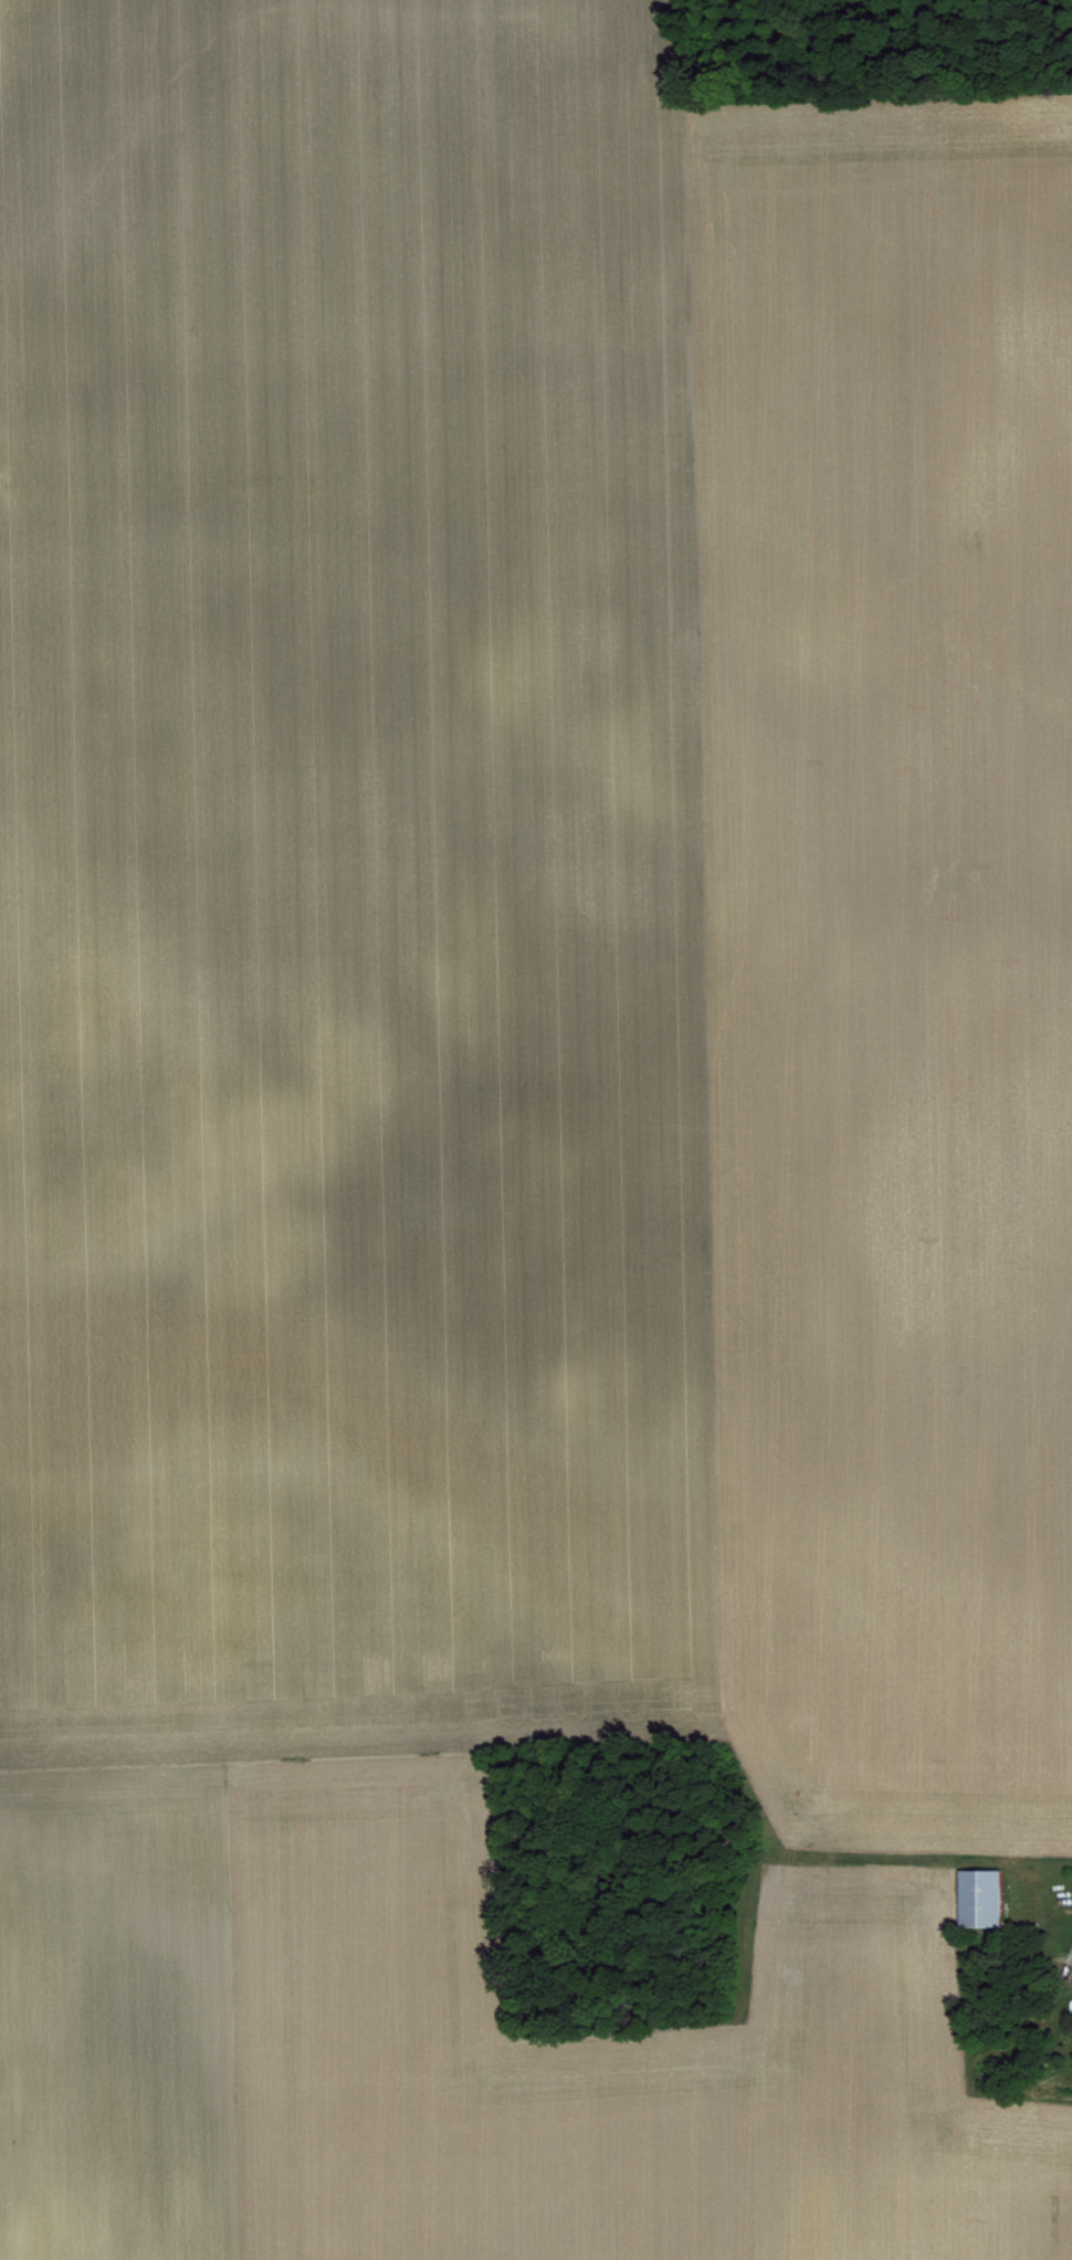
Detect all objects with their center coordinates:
crop: (536, 1129)
building: (978, 1894)

